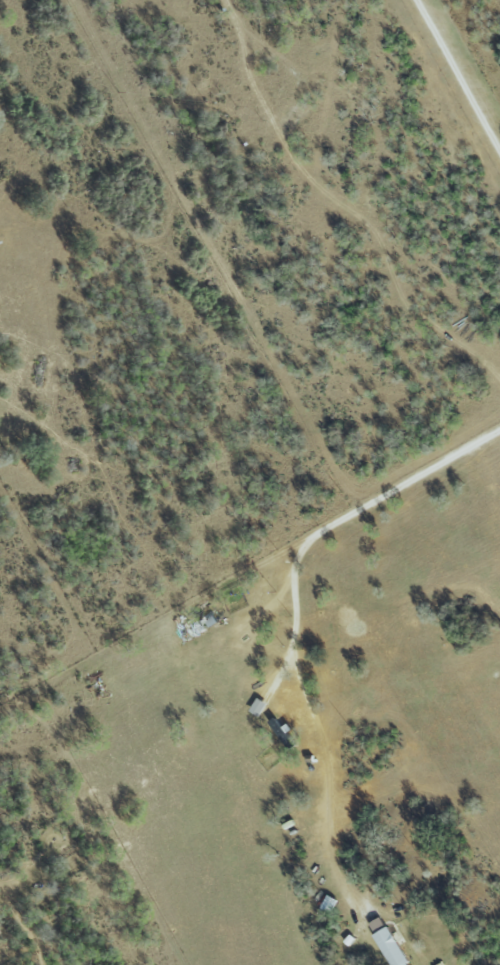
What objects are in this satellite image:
road: (457, 73)
road: (294, 617)
building: (378, 924)
building: (393, 947)

